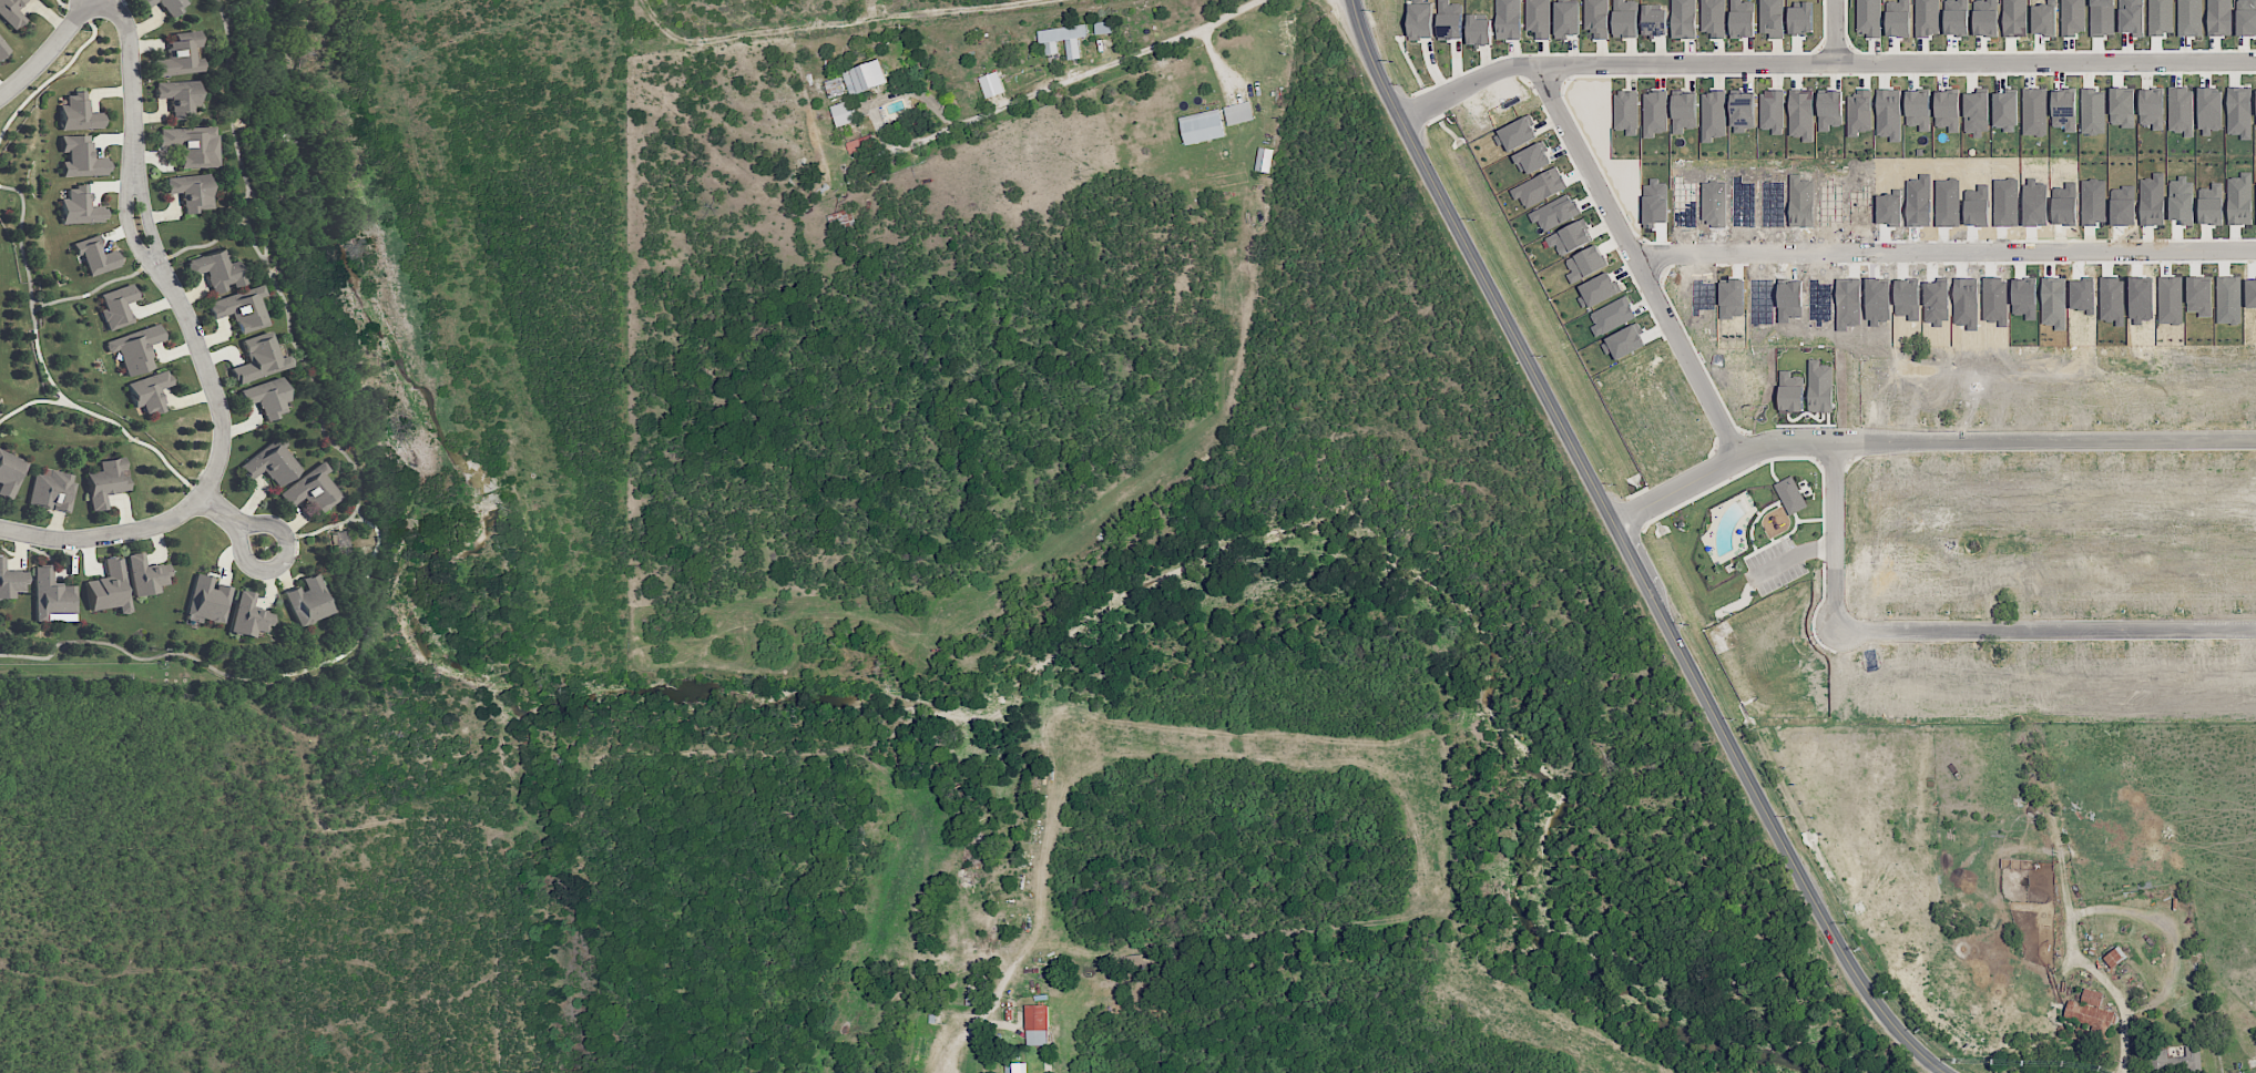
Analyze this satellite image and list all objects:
building: (144, 2)
building: (171, 6)
road: (875, 11)
building: (11, 12)
building: (1868, 17)
building: (1957, 17)
building: (1986, 17)
building: (2073, 17)
building: (2218, 17)
building: (1538, 18)
building: (1566, 18)
building: (1596, 18)
building: (1625, 18)
building: (1713, 18)
building: (1742, 18)
building: (1772, 18)
building: (1800, 18)
building: (1898, 18)
building: (2014, 18)
building: (1509, 19)
building: (1684, 19)
building: (1926, 19)
building: (1420, 20)
building: (1450, 20)
building: (1654, 20)
road: (856, 25)
building: (1103, 27)
building: (1479, 29)
road: (1834, 31)
building: (1062, 39)
building: (3, 48)
road: (49, 51)
building: (178, 53)
road: (1898, 62)
road: (131, 73)
building: (866, 76)
road: (1085, 81)
building: (991, 84)
road: (1469, 84)
building: (835, 86)
building: (177, 96)
building: (2152, 108)
building: (1829, 109)
building: (1918, 109)
building: (2005, 109)
building: (1773, 110)
building: (1947, 110)
building: (2064, 110)
building: (1743, 111)
building: (78, 112)
building: (1238, 112)
building: (1626, 112)
building: (1654, 112)
building: (1683, 112)
building: (1859, 112)
building: (844, 113)
building: (1801, 113)
building: (1888, 113)
building: (1713, 114)
building: (1202, 126)
building: (1515, 134)
building: (859, 143)
building: (191, 145)
building: (81, 156)
building: (1532, 157)
building: (1264, 159)
building: (1540, 187)
building: (190, 191)
building: (80, 206)
building: (1553, 213)
road: (144, 216)
building: (840, 218)
road: (125, 222)
building: (1570, 237)
road: (1947, 253)
building: (94, 255)
road: (1639, 260)
building: (1585, 263)
building: (216, 268)
building: (1597, 289)
building: (118, 305)
building: (241, 308)
building: (1624, 343)
building: (135, 347)
building: (258, 358)
building: (1820, 387)
building: (1790, 391)
building: (147, 392)
building: (265, 396)
road: (2043, 440)
building: (269, 463)
road: (1718, 468)
building: (10, 473)
building: (106, 481)
road: (208, 484)
building: (52, 489)
building: (314, 490)
building: (1790, 494)
road: (234, 521)
road: (1834, 523)
building: (340, 539)
road: (1627, 549)
building: (146, 574)
building: (10, 580)
building: (110, 587)
building: (53, 596)
building: (206, 600)
building: (307, 601)
building: (248, 615)
road: (2040, 632)
building: (2015, 863)
building: (2114, 957)
road: (2090, 967)
building: (2092, 1013)
building: (1037, 1024)
building: (2174, 1060)
building: (1015, 1067)
road: (943, 1071)

